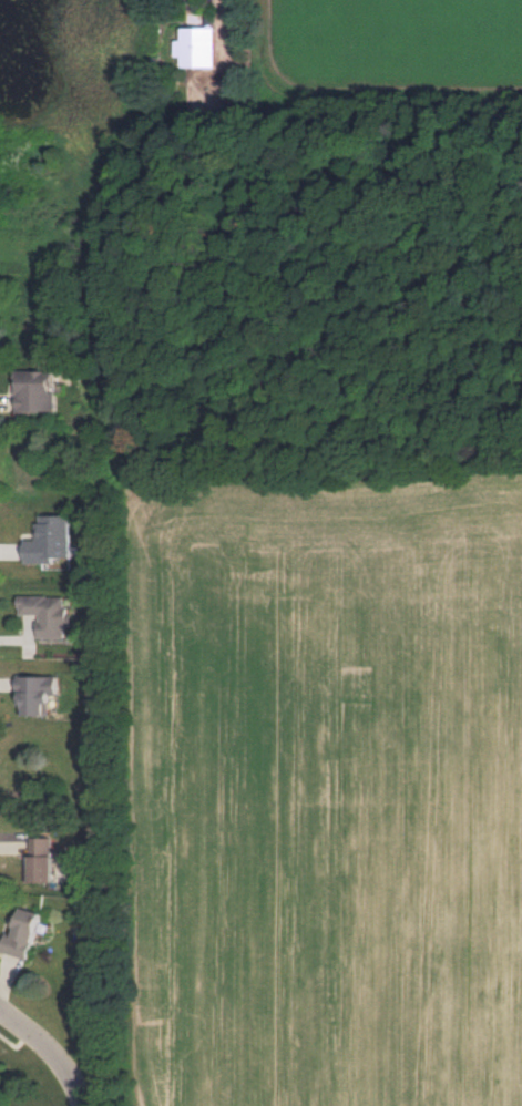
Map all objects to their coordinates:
building: (196, 47)
building: (35, 391)
building: (49, 540)
building: (45, 613)
building: (34, 694)
building: (42, 859)
building: (22, 934)
road: (51, 1049)

